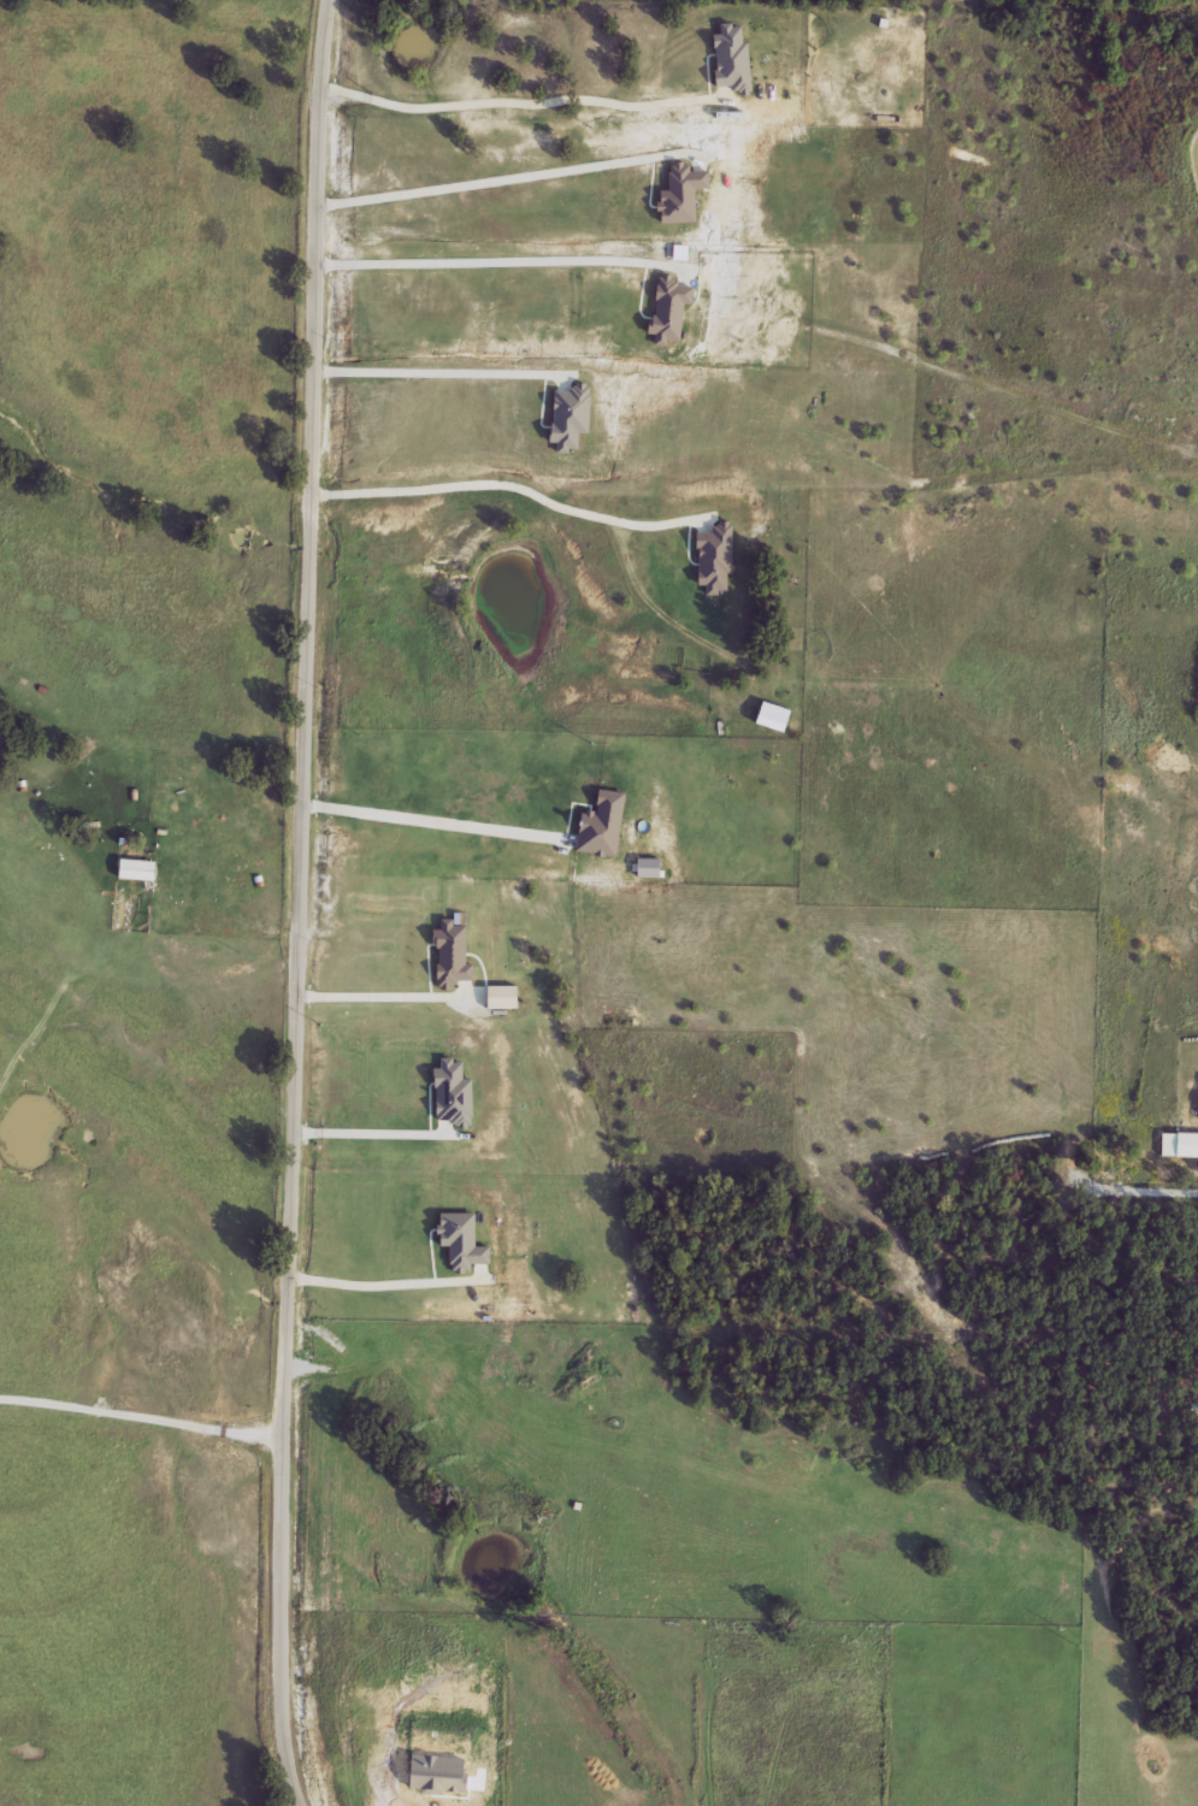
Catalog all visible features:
road: (506, 106)
road: (507, 182)
road: (484, 264)
road: (425, 377)
road: (506, 485)
road: (419, 820)
building: (137, 870)
road: (293, 903)
road: (366, 996)
road: (364, 1134)
road: (362, 1285)
road: (140, 1420)

